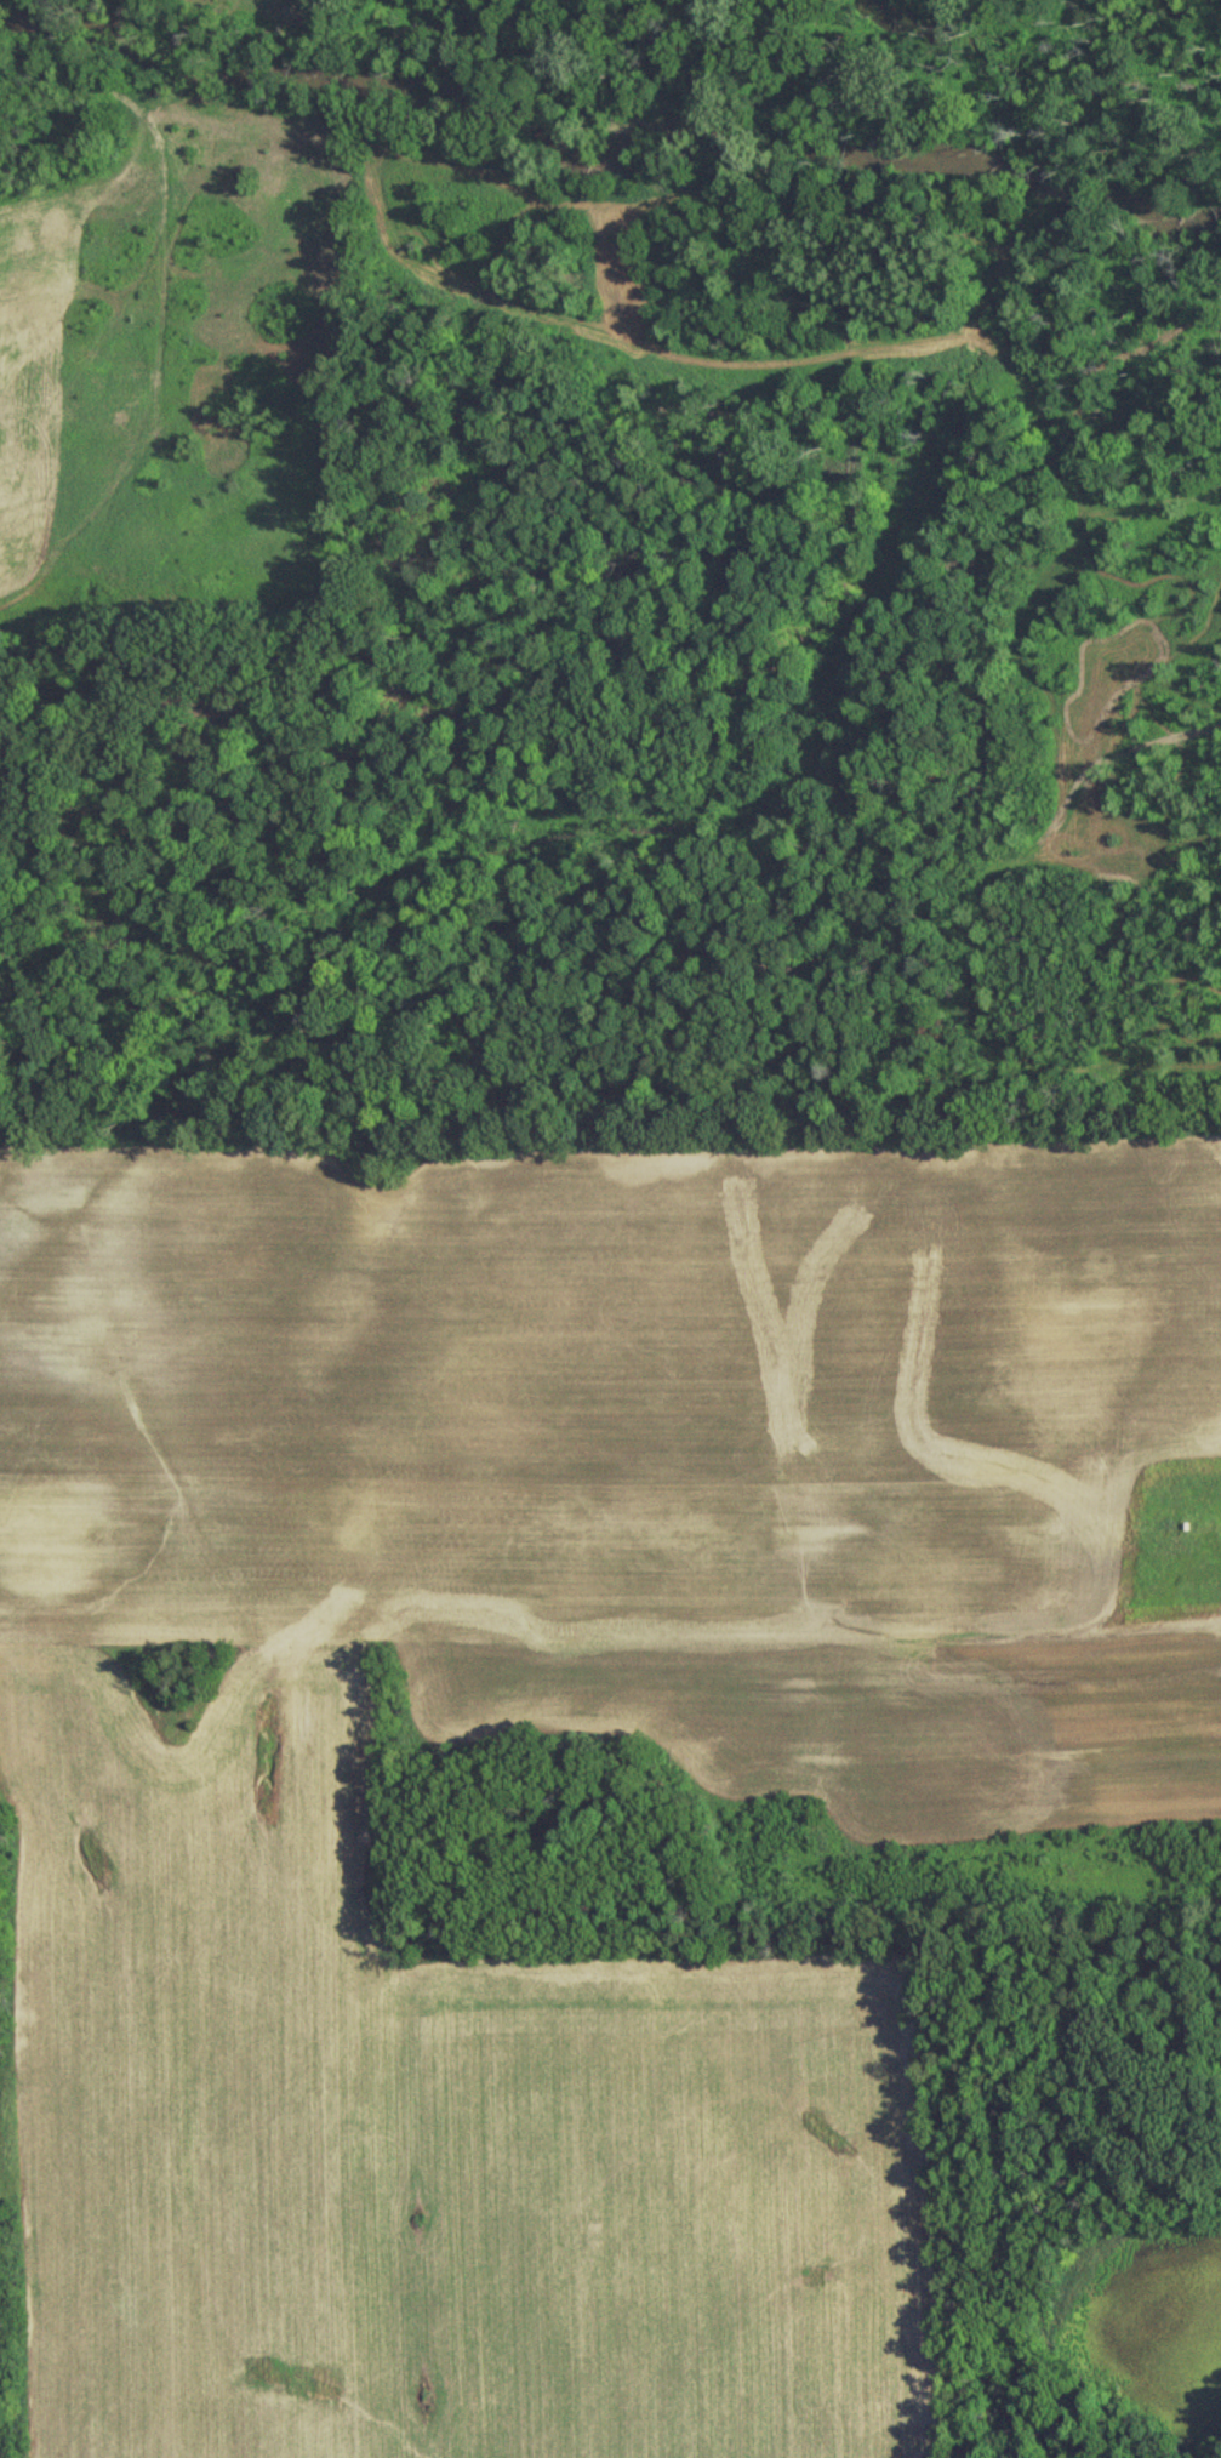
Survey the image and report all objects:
river: (607, 162)

